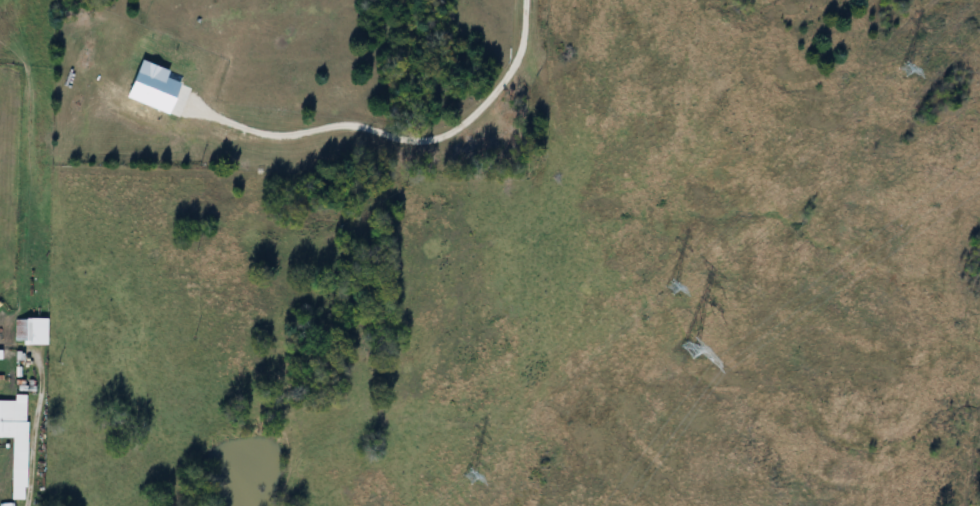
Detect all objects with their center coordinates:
power tower: (891, 66)
road: (387, 141)
power tower: (659, 286)
building: (27, 331)
power tower: (684, 349)
building: (13, 438)
power tower: (458, 475)

